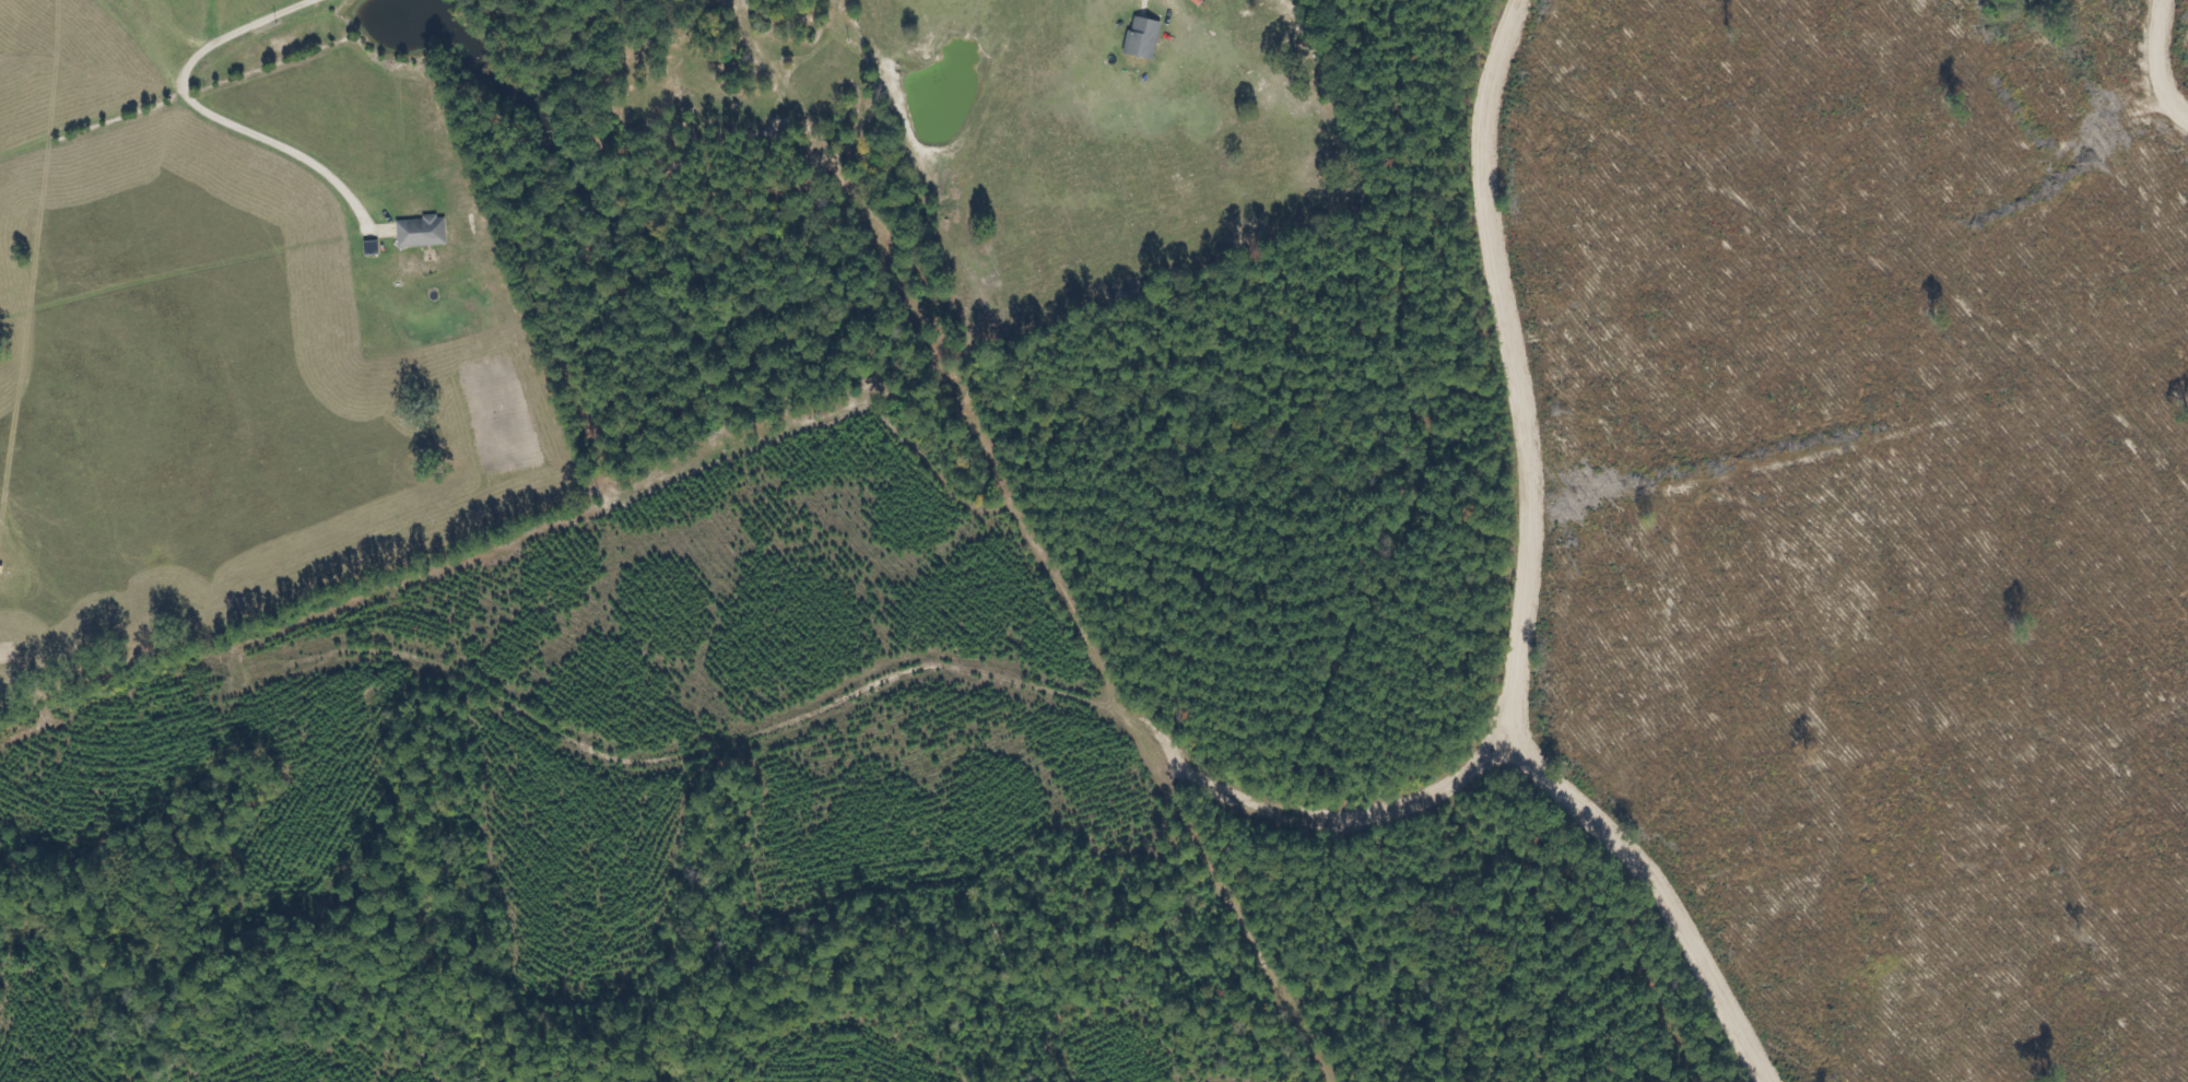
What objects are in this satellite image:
building: (1143, 38)
road: (2160, 66)
building: (422, 232)
road: (1511, 361)
road: (1650, 892)

